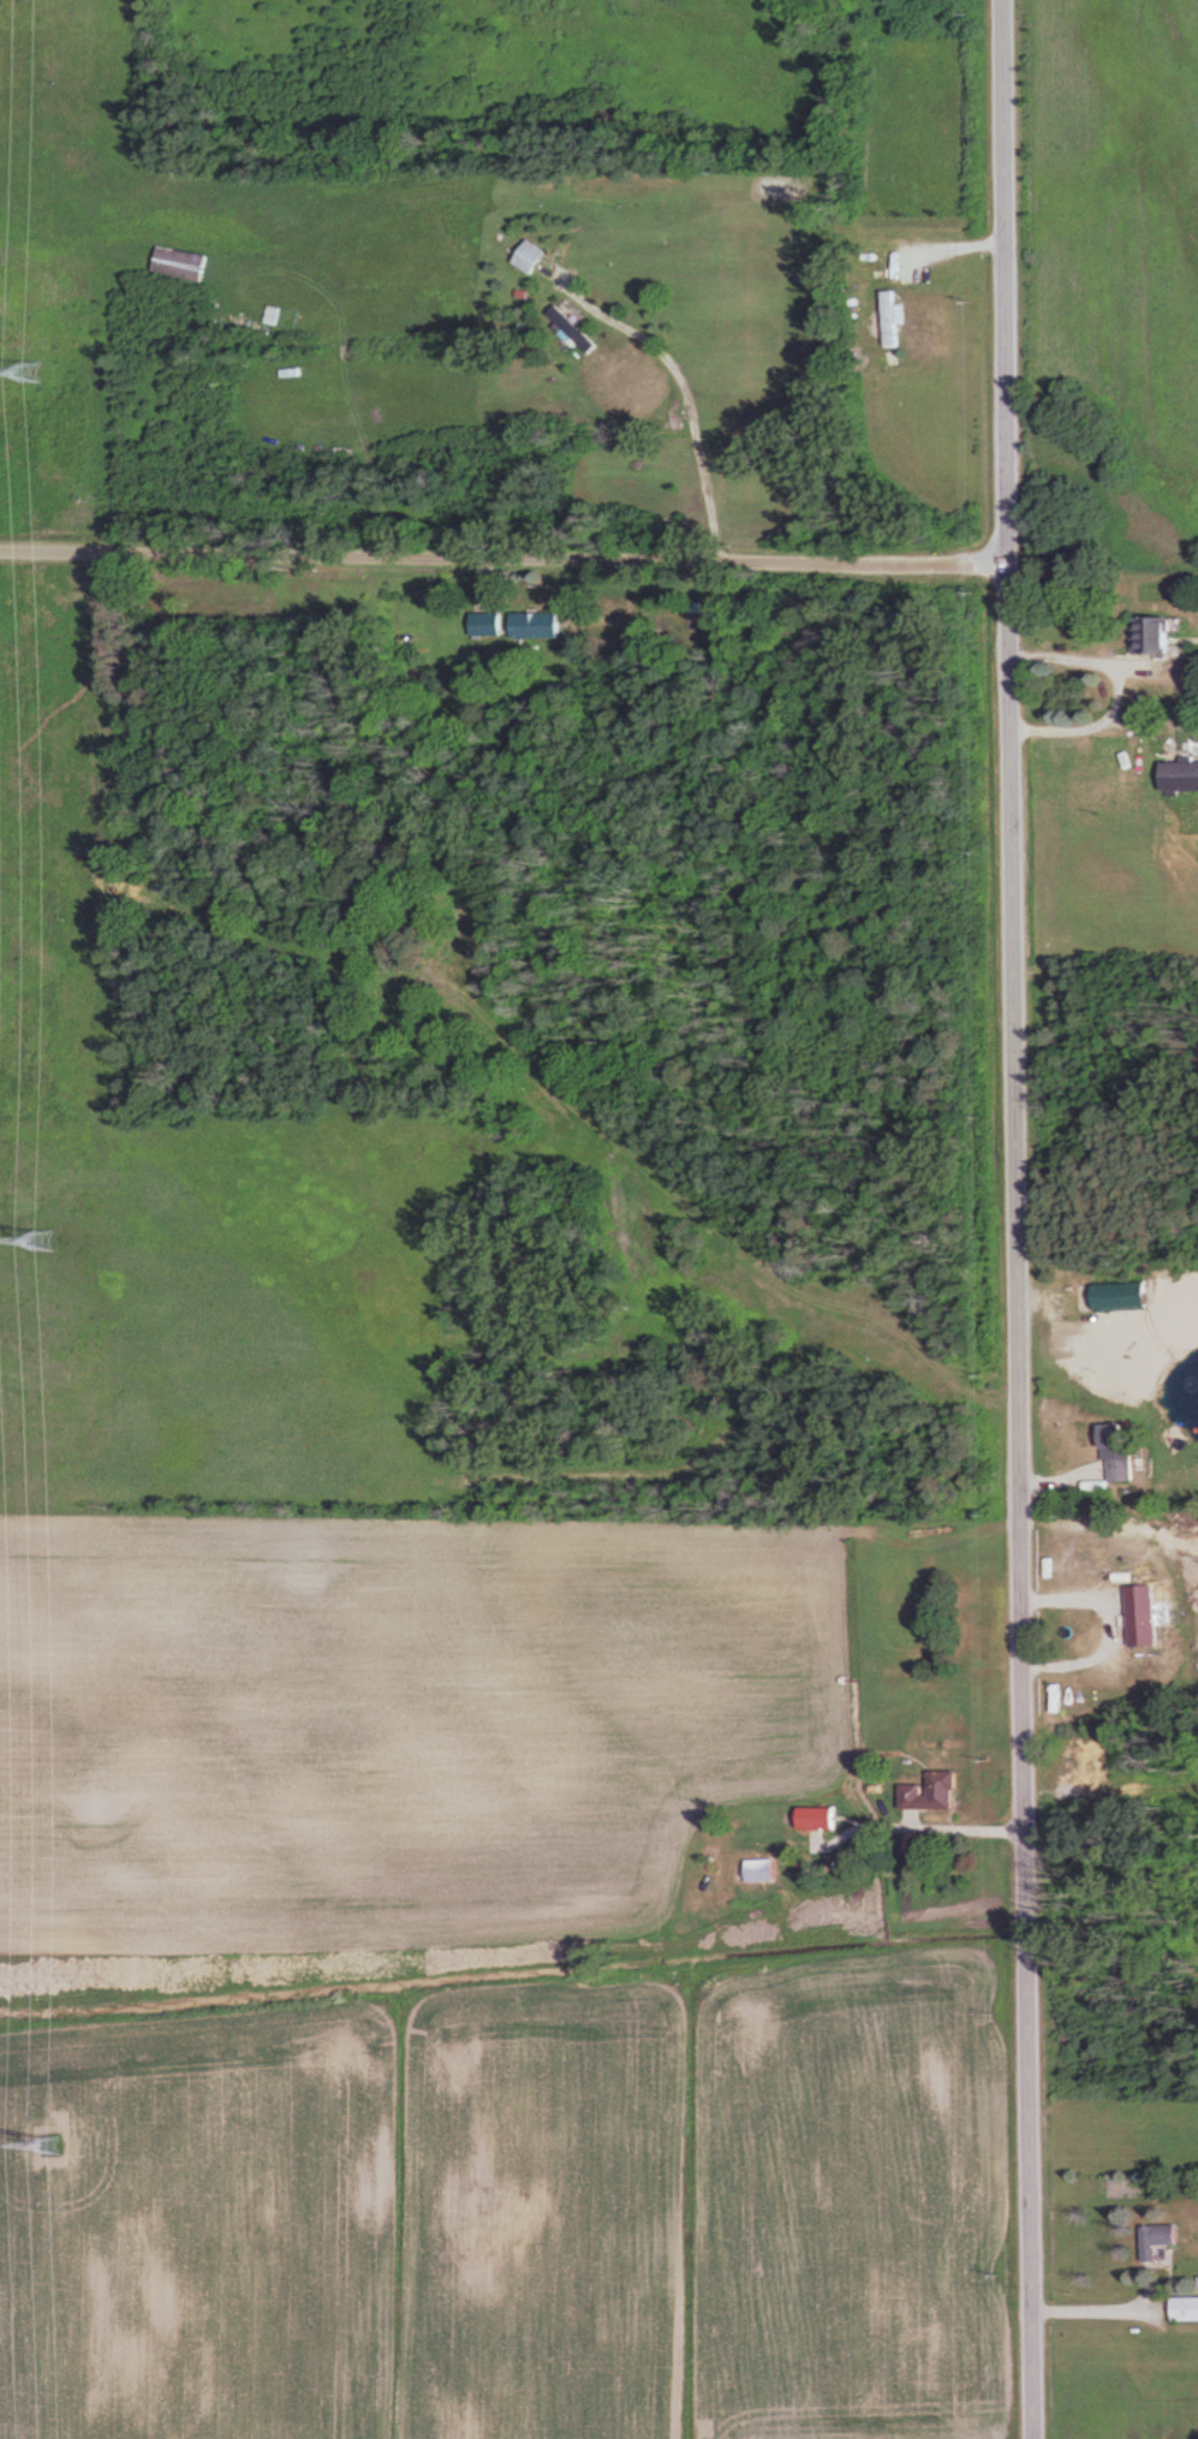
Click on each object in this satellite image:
building: (534, 257)
building: (892, 319)
building: (578, 331)
power tower: (32, 373)
road: (680, 392)
road: (505, 554)
building: (489, 624)
building: (537, 624)
building: (1158, 633)
building: (1182, 777)
road: (1018, 1219)
power tower: (43, 1241)
building: (1124, 1297)
building: (1126, 1452)
building: (1150, 1616)
building: (934, 1792)
building: (818, 1819)
building: (763, 1872)
power tower: (52, 2148)
building: (1166, 2236)
road: (1097, 2309)
building: (1185, 2309)

